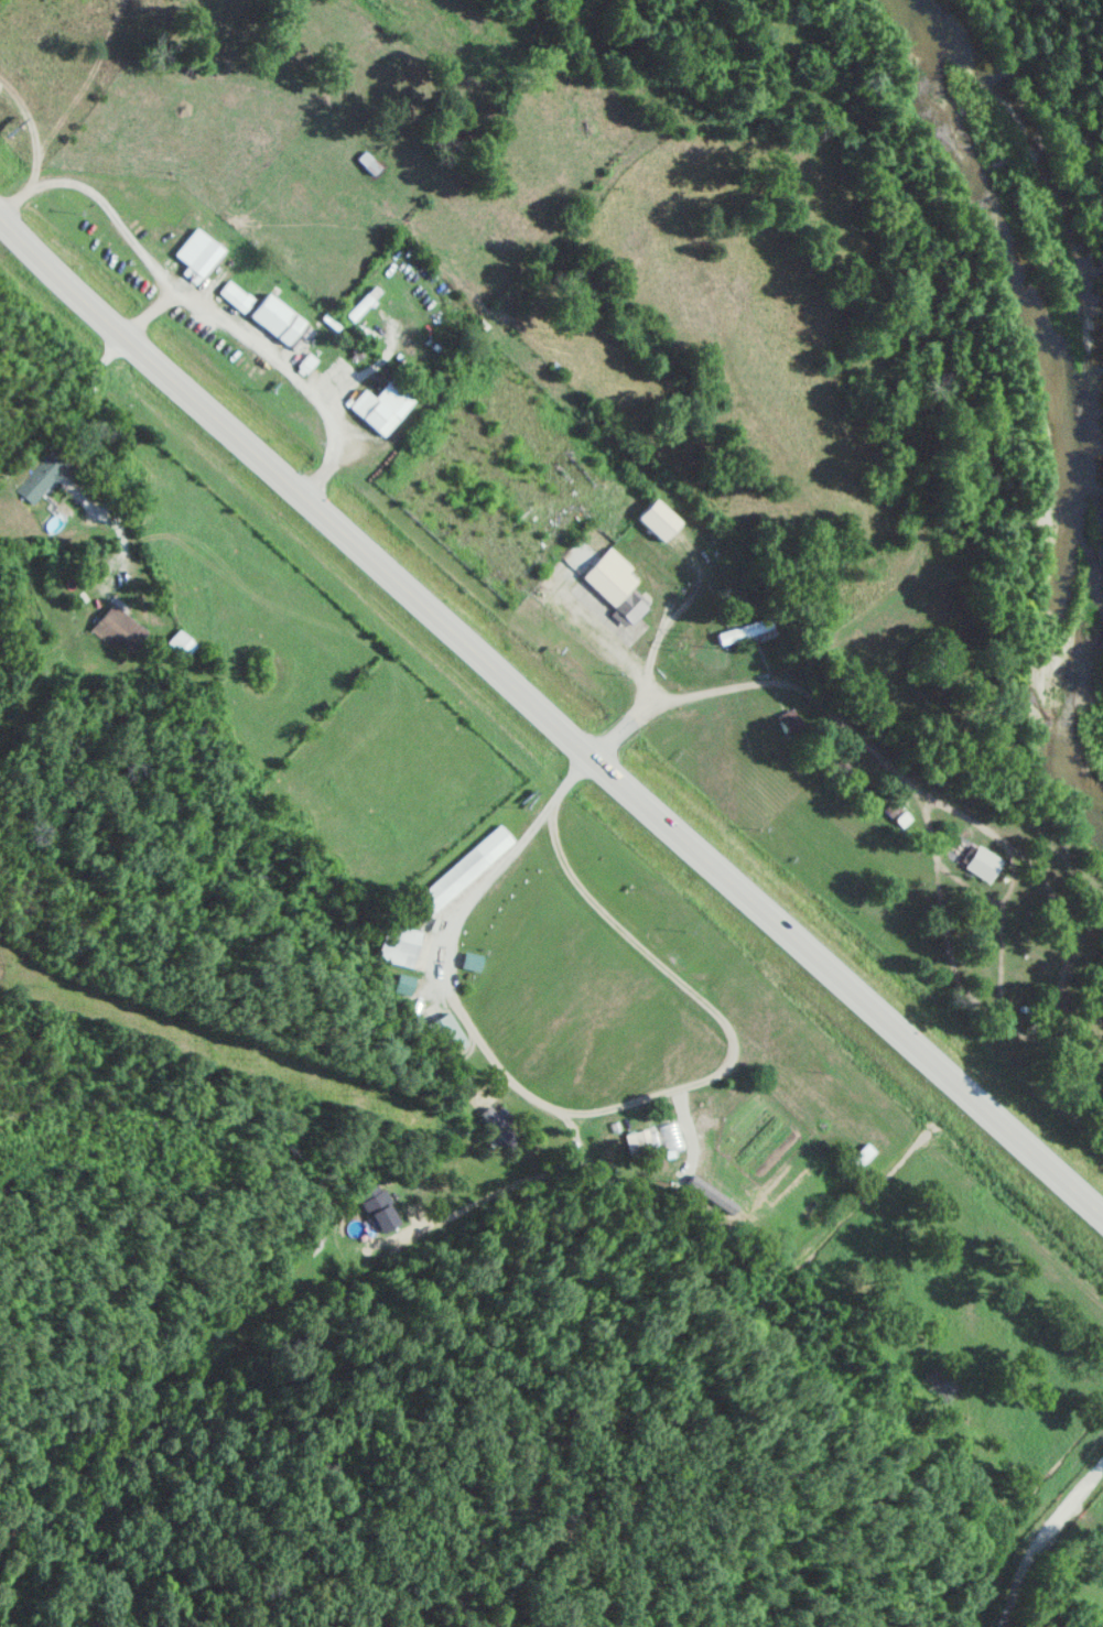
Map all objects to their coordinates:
building: (367, 161)
building: (196, 253)
building: (361, 304)
building: (274, 318)
building: (305, 361)
building: (382, 403)
river: (1070, 404)
building: (39, 478)
building: (658, 518)
building: (616, 585)
building: (119, 629)
building: (744, 630)
building: (180, 641)
road: (549, 718)
building: (788, 719)
building: (825, 752)
building: (840, 763)
building: (851, 773)
building: (864, 785)
building: (875, 795)
building: (889, 806)
building: (900, 816)
building: (462, 869)
building: (405, 944)
building: (473, 958)
building: (405, 981)
building: (495, 1120)
building: (674, 1131)
building: (636, 1139)
building: (861, 1153)
building: (369, 1200)
road: (1037, 1539)

